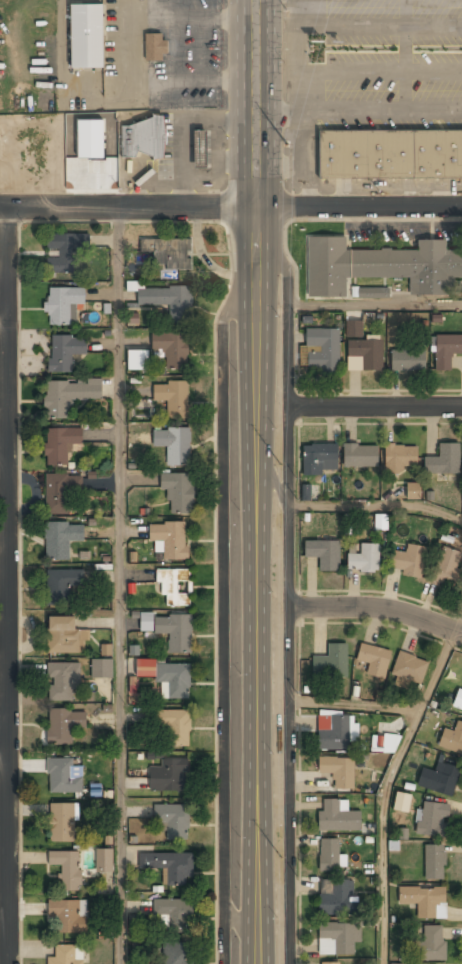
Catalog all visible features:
building: (86, 36)
building: (155, 46)
parking lot: (365, 69)
building: (91, 138)
building: (142, 139)
building: (200, 149)
power tower: (286, 149)
building: (390, 153)
road: (4, 209)
building: (169, 252)
building: (64, 253)
building: (380, 265)
building: (372, 292)
building: (168, 299)
building: (63, 304)
road: (374, 304)
road: (4, 322)
building: (354, 328)
building: (172, 349)
building: (323, 349)
building: (447, 350)
building: (65, 351)
building: (367, 353)
road: (8, 359)
building: (137, 359)
building: (409, 361)
building: (68, 396)
building: (173, 398)
road: (375, 407)
building: (174, 444)
building: (61, 445)
building: (361, 456)
building: (318, 457)
building: (401, 458)
building: (445, 460)
road: (4, 473)
road: (255, 481)
road: (276, 484)
building: (178, 491)
building: (413, 491)
building: (306, 492)
building: (61, 493)
road: (376, 505)
power tower: (282, 519)
building: (380, 522)
building: (171, 538)
building: (62, 539)
building: (324, 554)
building: (365, 558)
building: (409, 560)
building: (447, 567)
building: (62, 584)
road: (121, 586)
building: (174, 586)
road: (221, 588)
road: (291, 595)
road: (378, 609)
building: (146, 621)
road: (459, 621)
building: (176, 632)
building: (65, 636)
building: (106, 649)
building: (331, 659)
building: (374, 659)
building: (101, 668)
building: (410, 669)
building: (169, 677)
building: (63, 681)
building: (458, 699)
road: (356, 706)
building: (64, 726)
building: (176, 726)
building: (334, 732)
building: (452, 738)
building: (390, 743)
road: (5, 766)
building: (339, 771)
building: (64, 776)
building: (169, 776)
building: (440, 779)
road: (385, 789)
building: (338, 816)
building: (432, 819)
building: (174, 820)
building: (62, 822)
power tower: (282, 836)
building: (330, 854)
building: (104, 860)
building: (435, 862)
building: (169, 866)
building: (67, 869)
building: (336, 897)
building: (424, 900)
building: (175, 914)
building: (69, 915)
road: (238, 926)
road: (222, 934)
building: (337, 939)
building: (432, 944)
building: (176, 953)
building: (67, 955)
building: (329, 963)
building: (396, 963)

